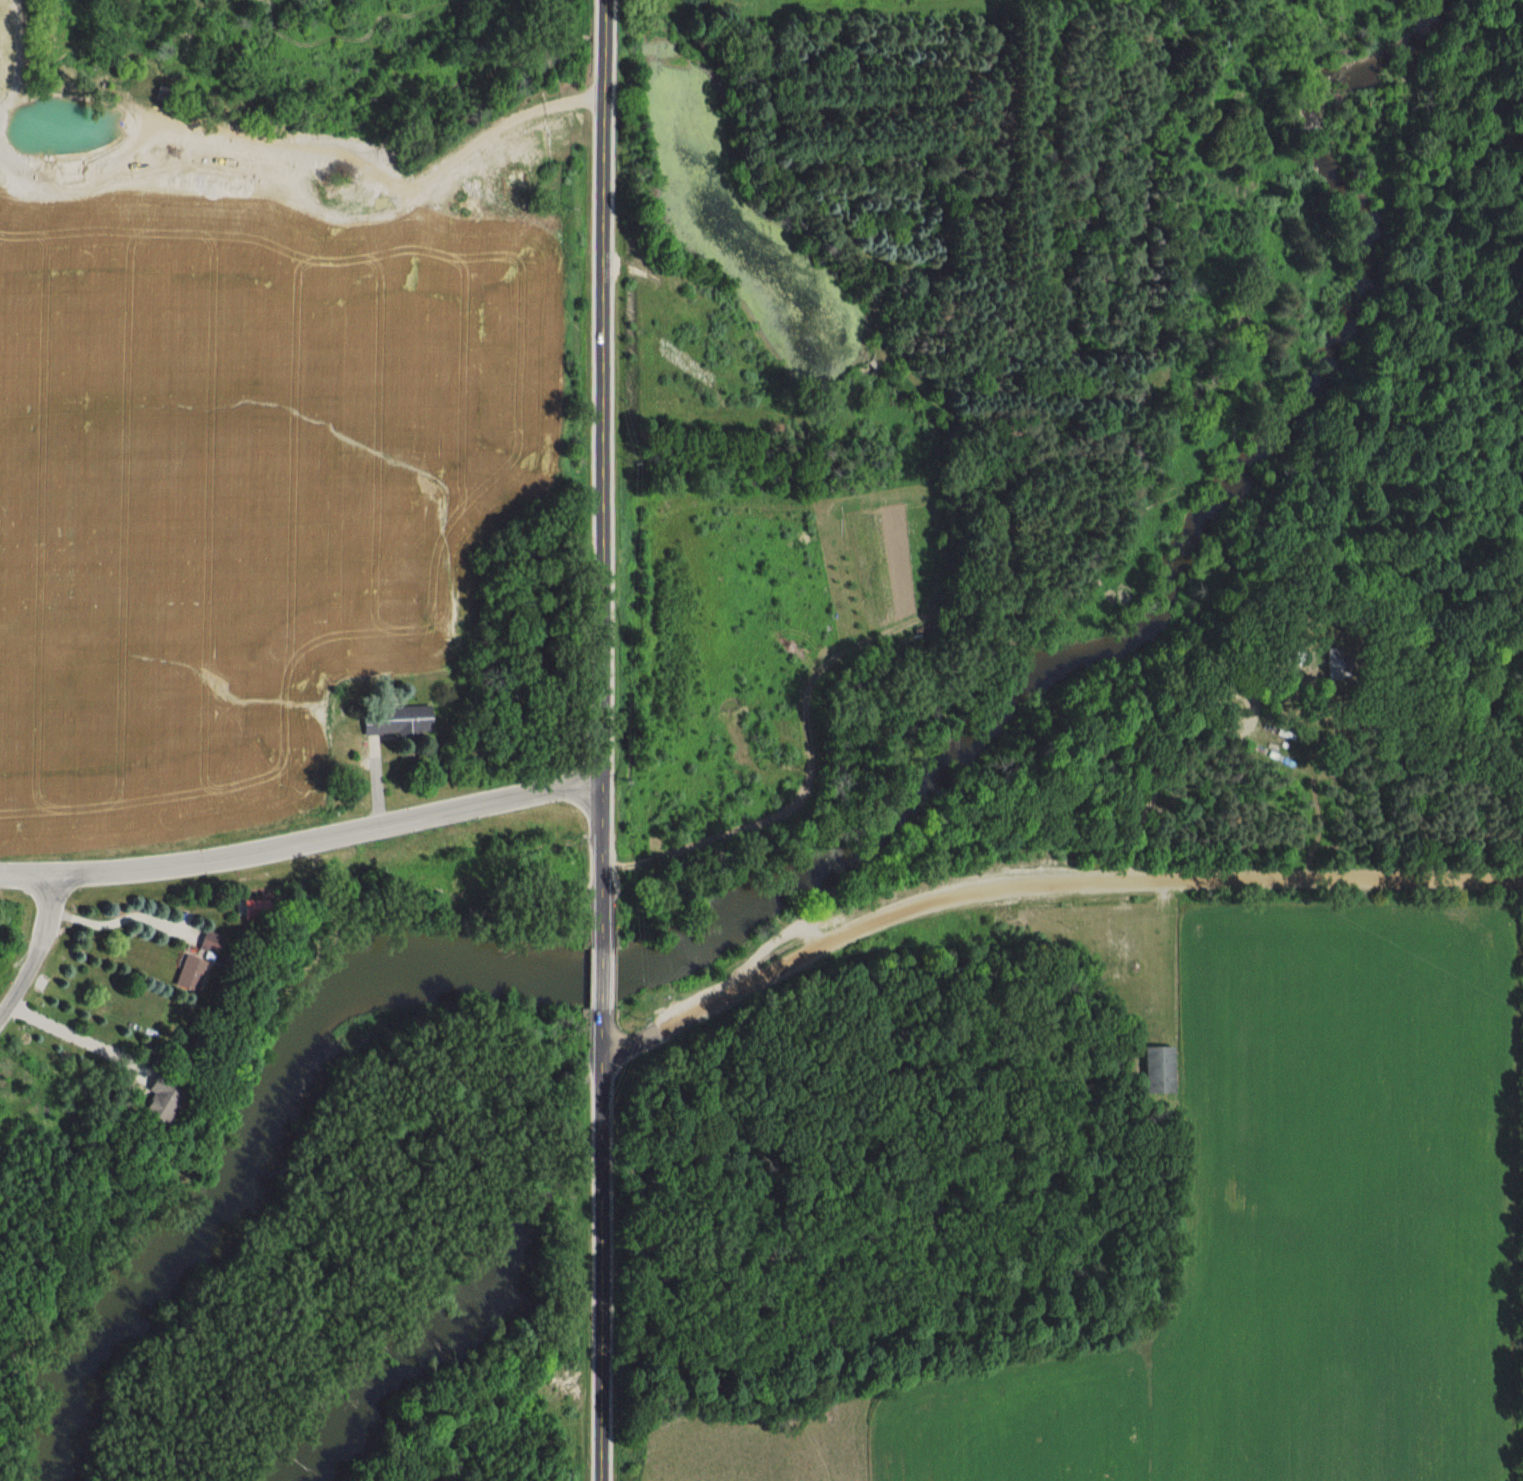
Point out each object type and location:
road: (603, 473)
building: (394, 722)
road: (328, 836)
road: (26, 877)
road: (1043, 884)
road: (118, 915)
building: (205, 941)
road: (38, 952)
building: (187, 973)
road: (601, 979)
road: (76, 1034)
building: (1157, 1070)
building: (154, 1099)
road: (601, 1245)

